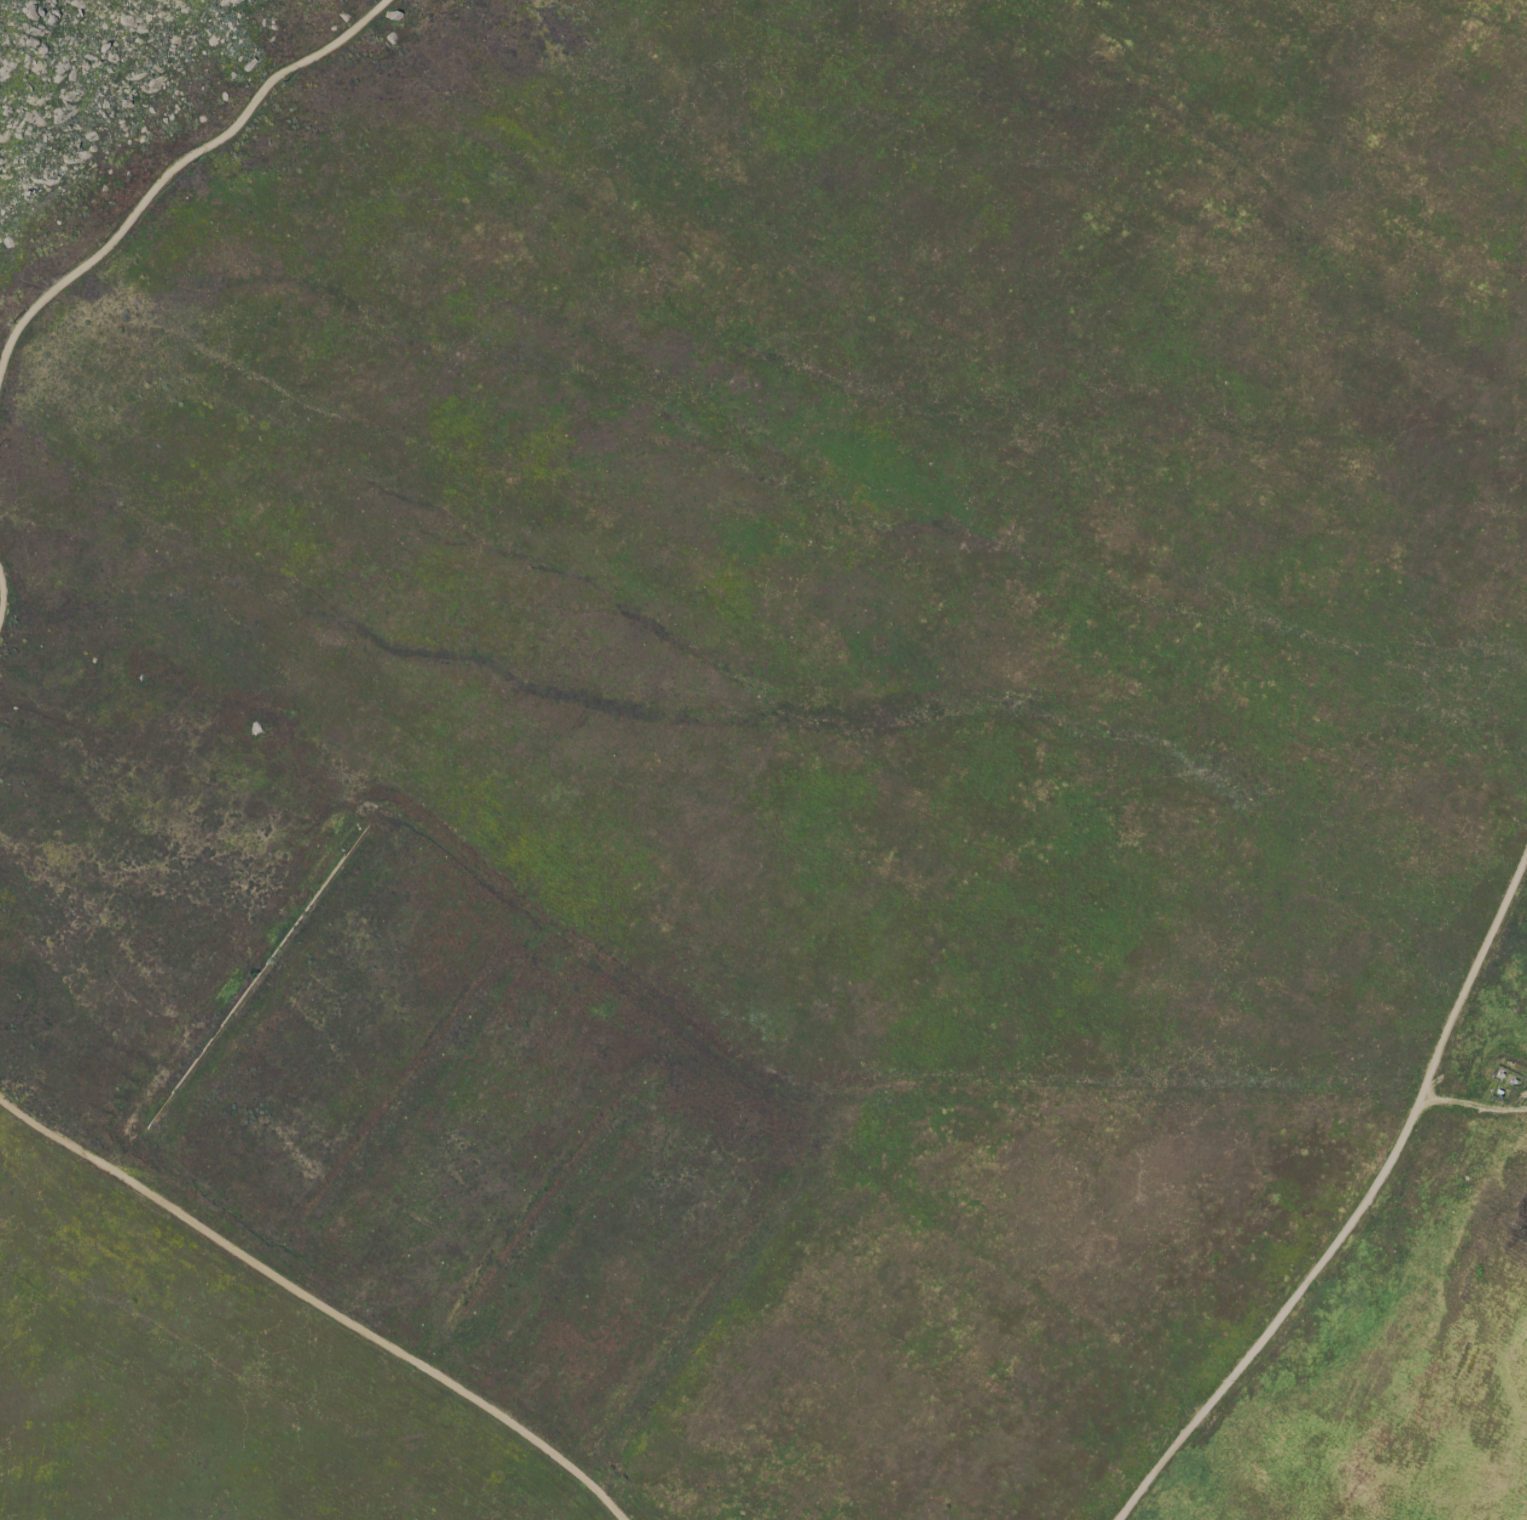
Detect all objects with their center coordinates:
road: (1268, 1321)

